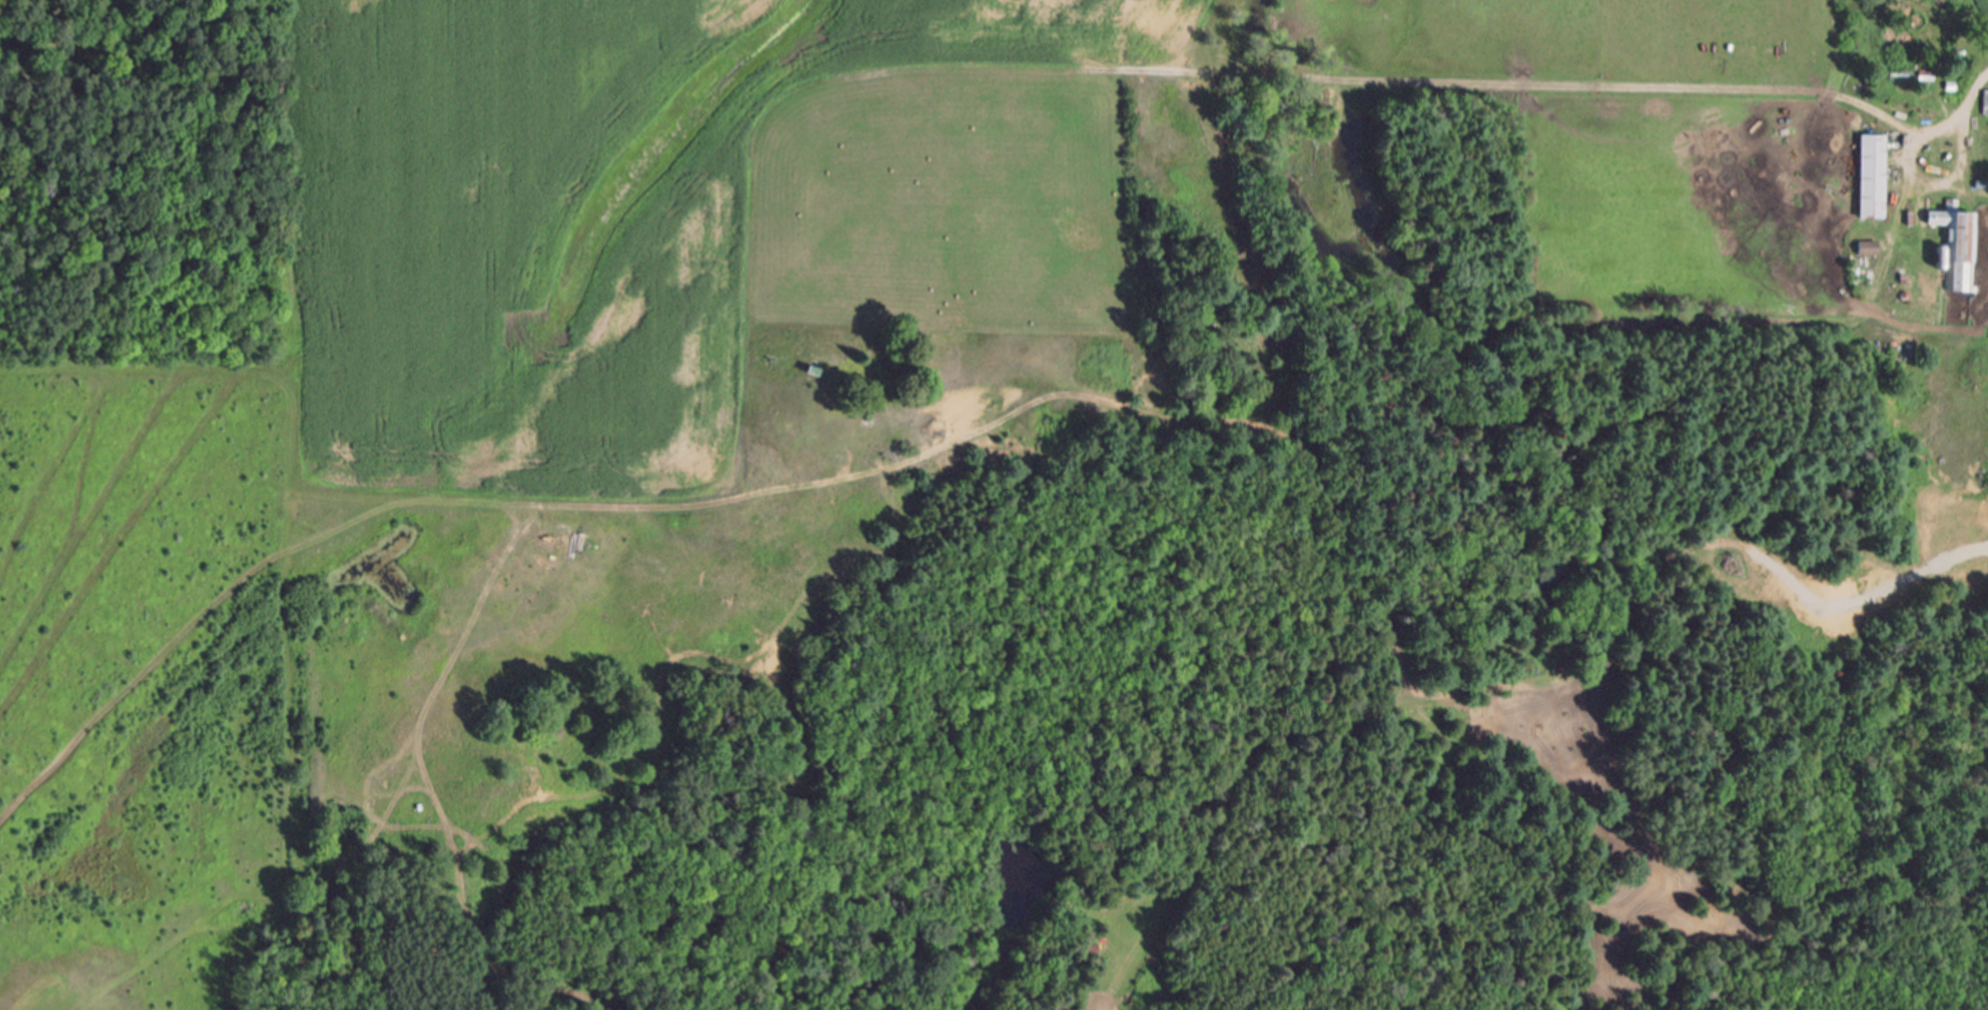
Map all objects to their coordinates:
building: (1984, 103)
road: (1953, 115)
building: (1868, 176)
building: (1930, 218)
building: (1862, 248)
building: (1957, 251)

